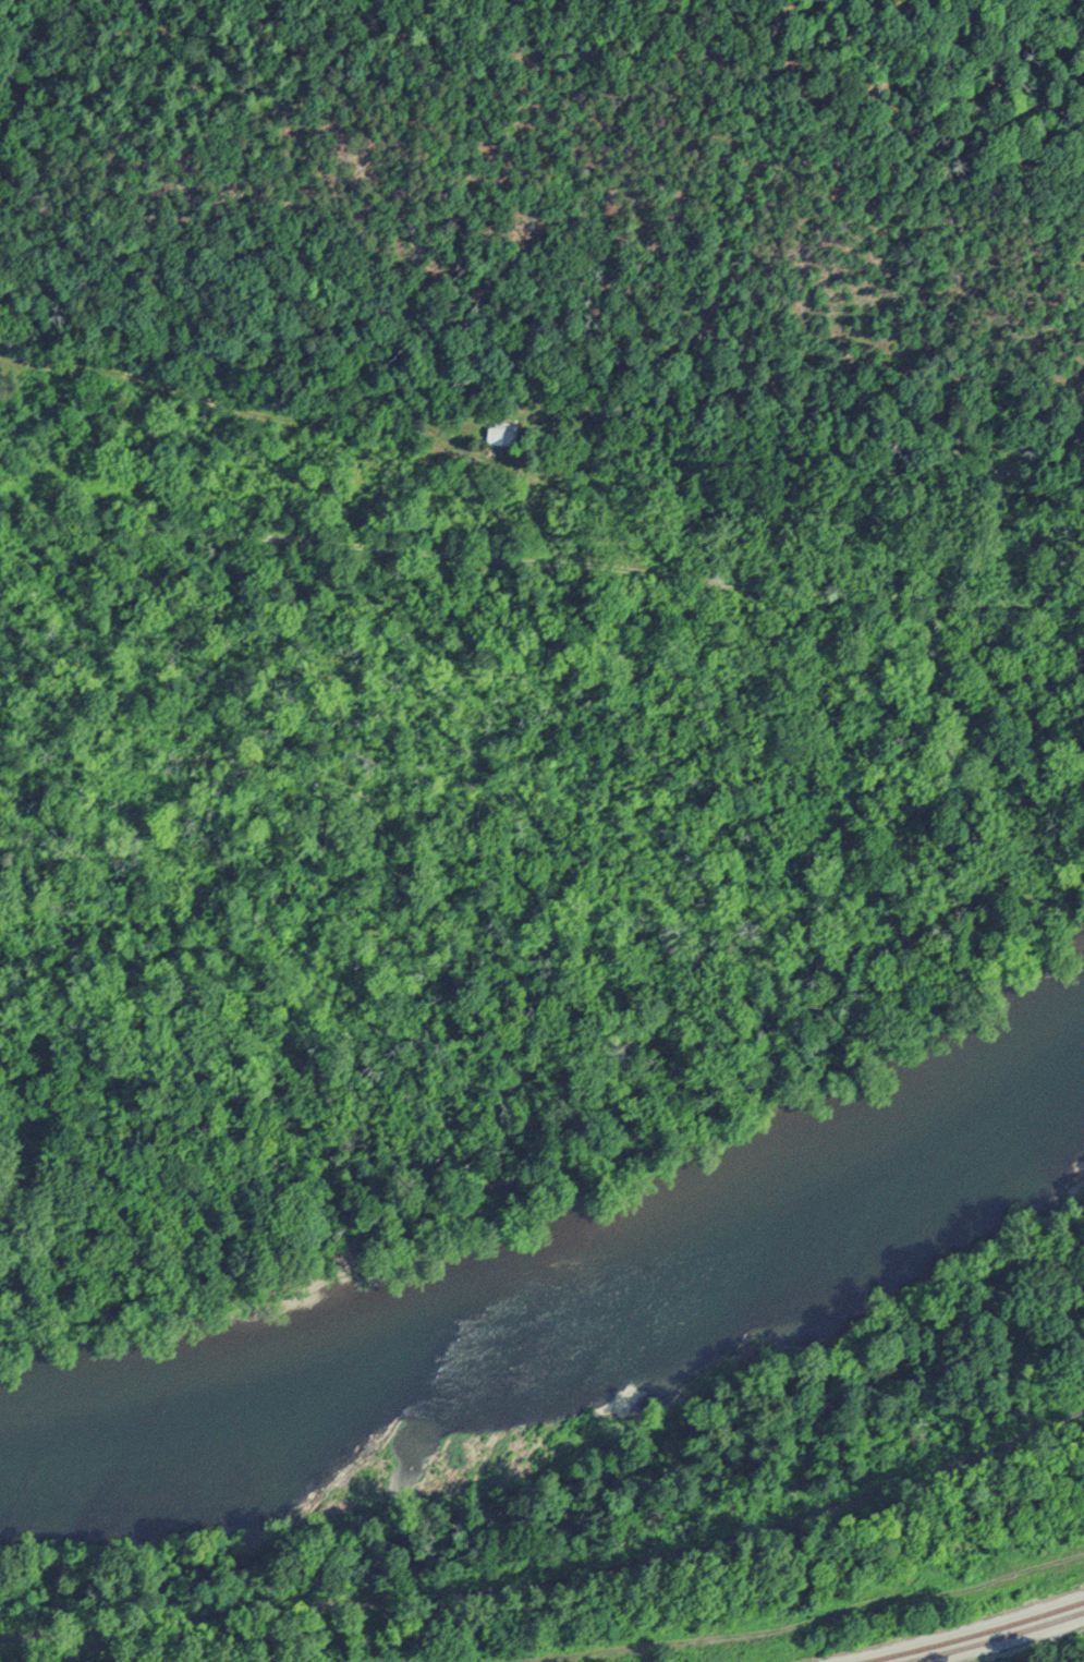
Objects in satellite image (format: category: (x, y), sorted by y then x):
road: (25, 43)
road: (233, 409)
road: (541, 562)
river: (561, 1326)
road: (555, 1584)
railway: (978, 1634)
railway: (998, 1639)

